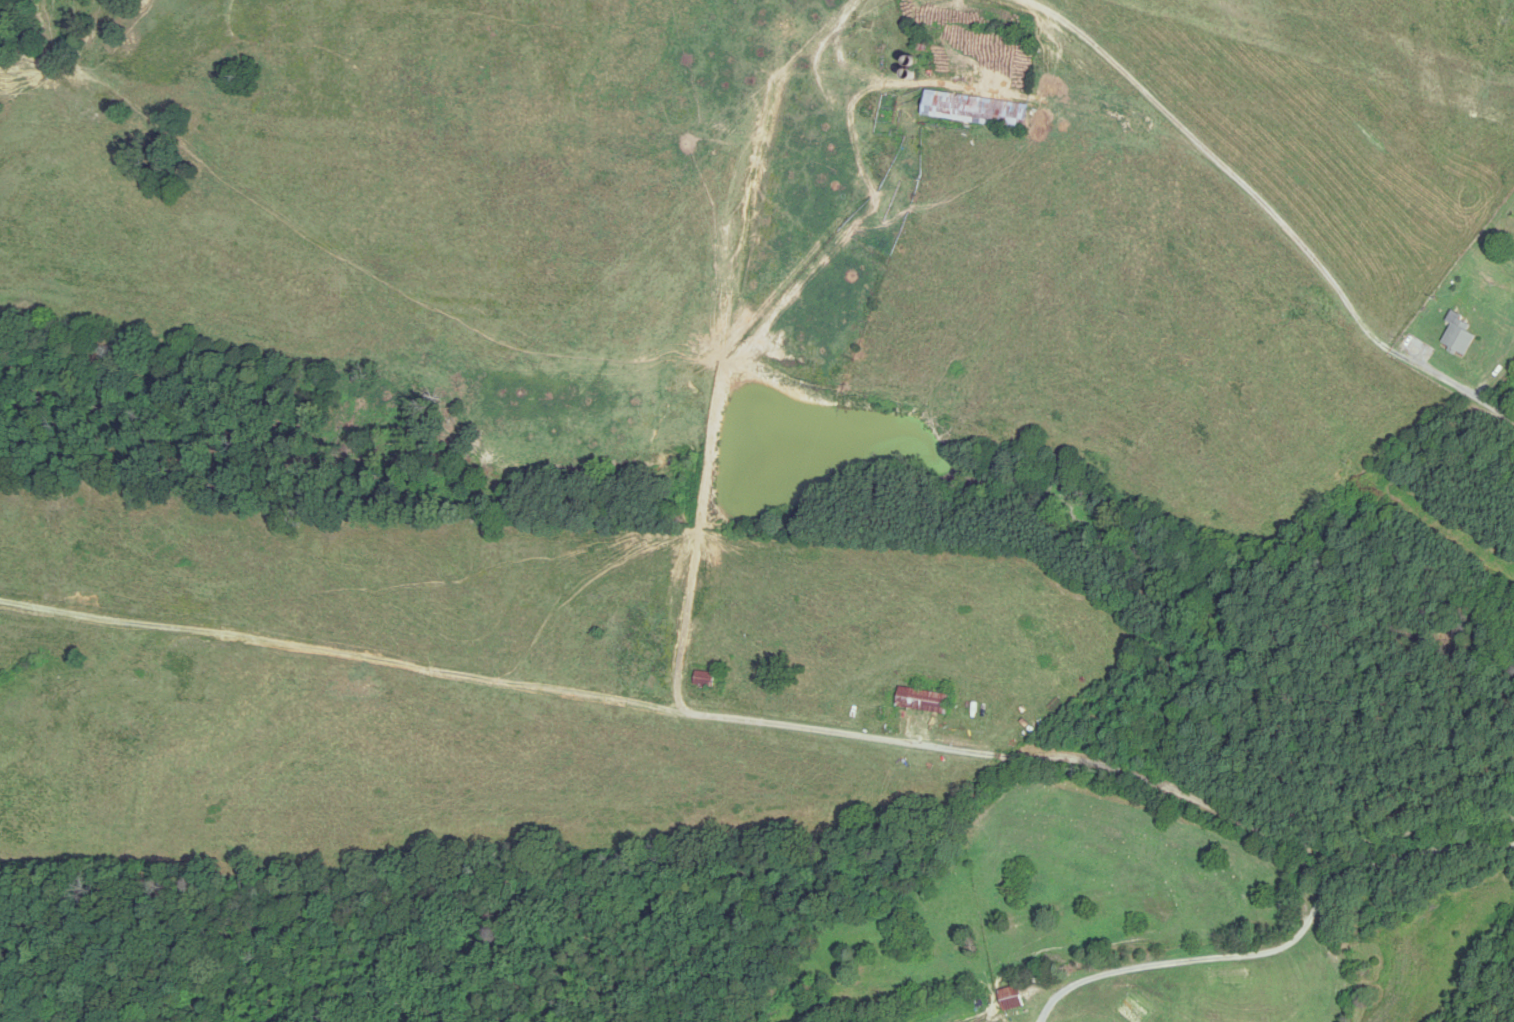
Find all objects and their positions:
building: (978, 110)
building: (1460, 335)
road: (1456, 395)
road: (177, 632)
building: (706, 680)
building: (924, 701)
road: (645, 706)
road: (1286, 944)
building: (1013, 998)

